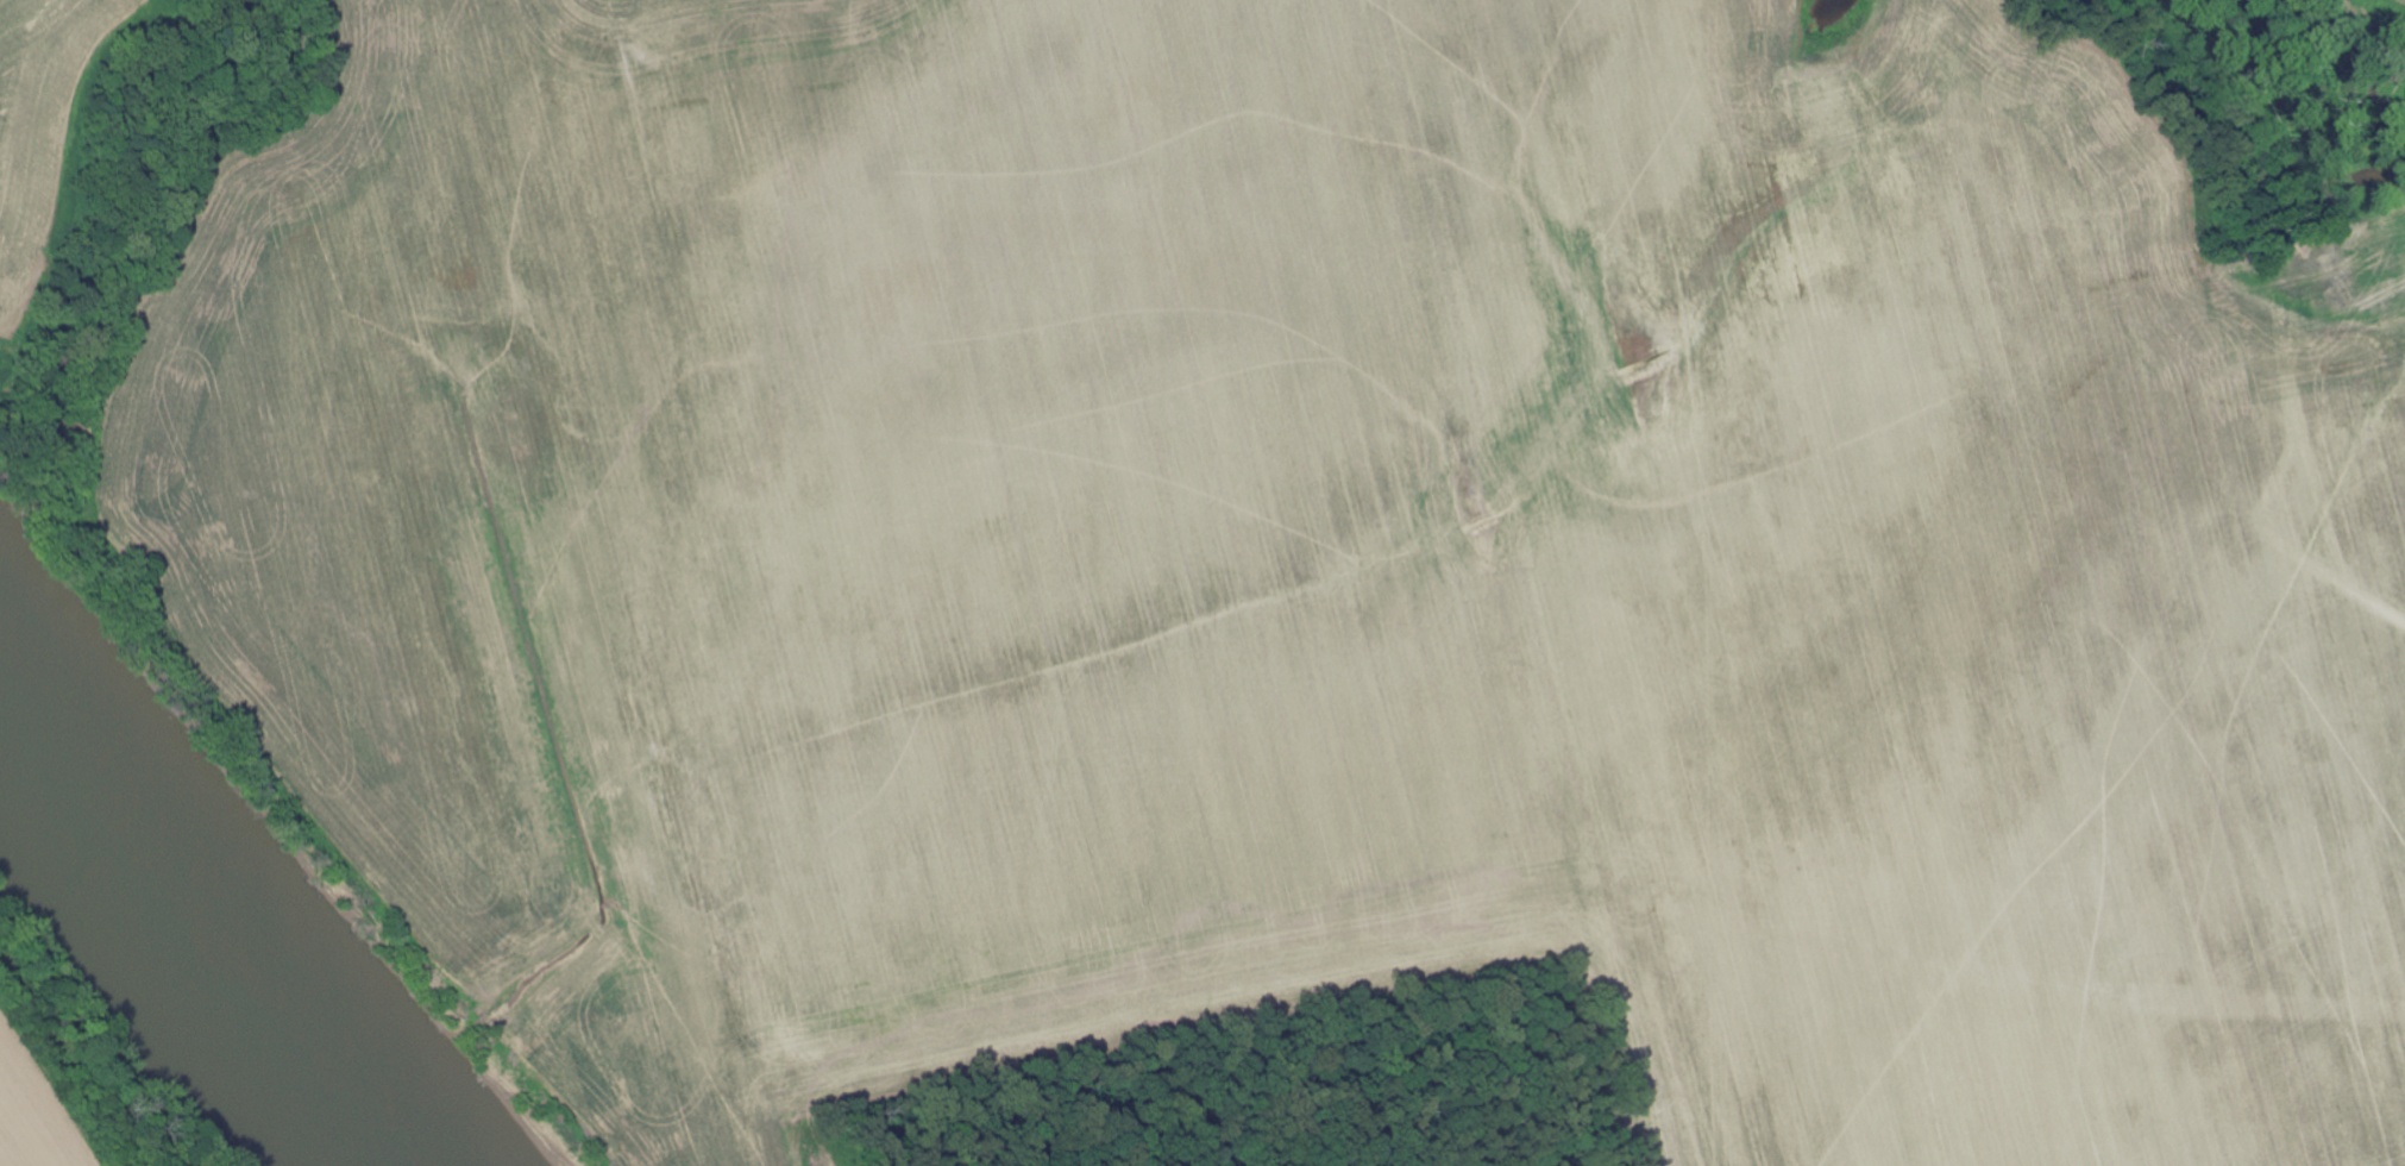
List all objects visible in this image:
river: (190, 935)

